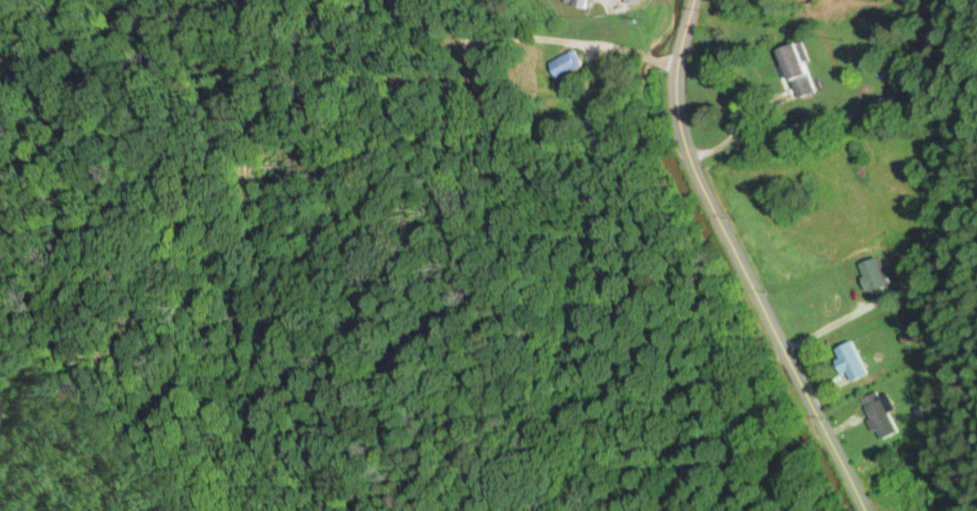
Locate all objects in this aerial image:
building: (576, 3)
building: (564, 63)
building: (796, 68)
road: (742, 265)
building: (869, 273)
building: (847, 359)
building: (877, 413)

